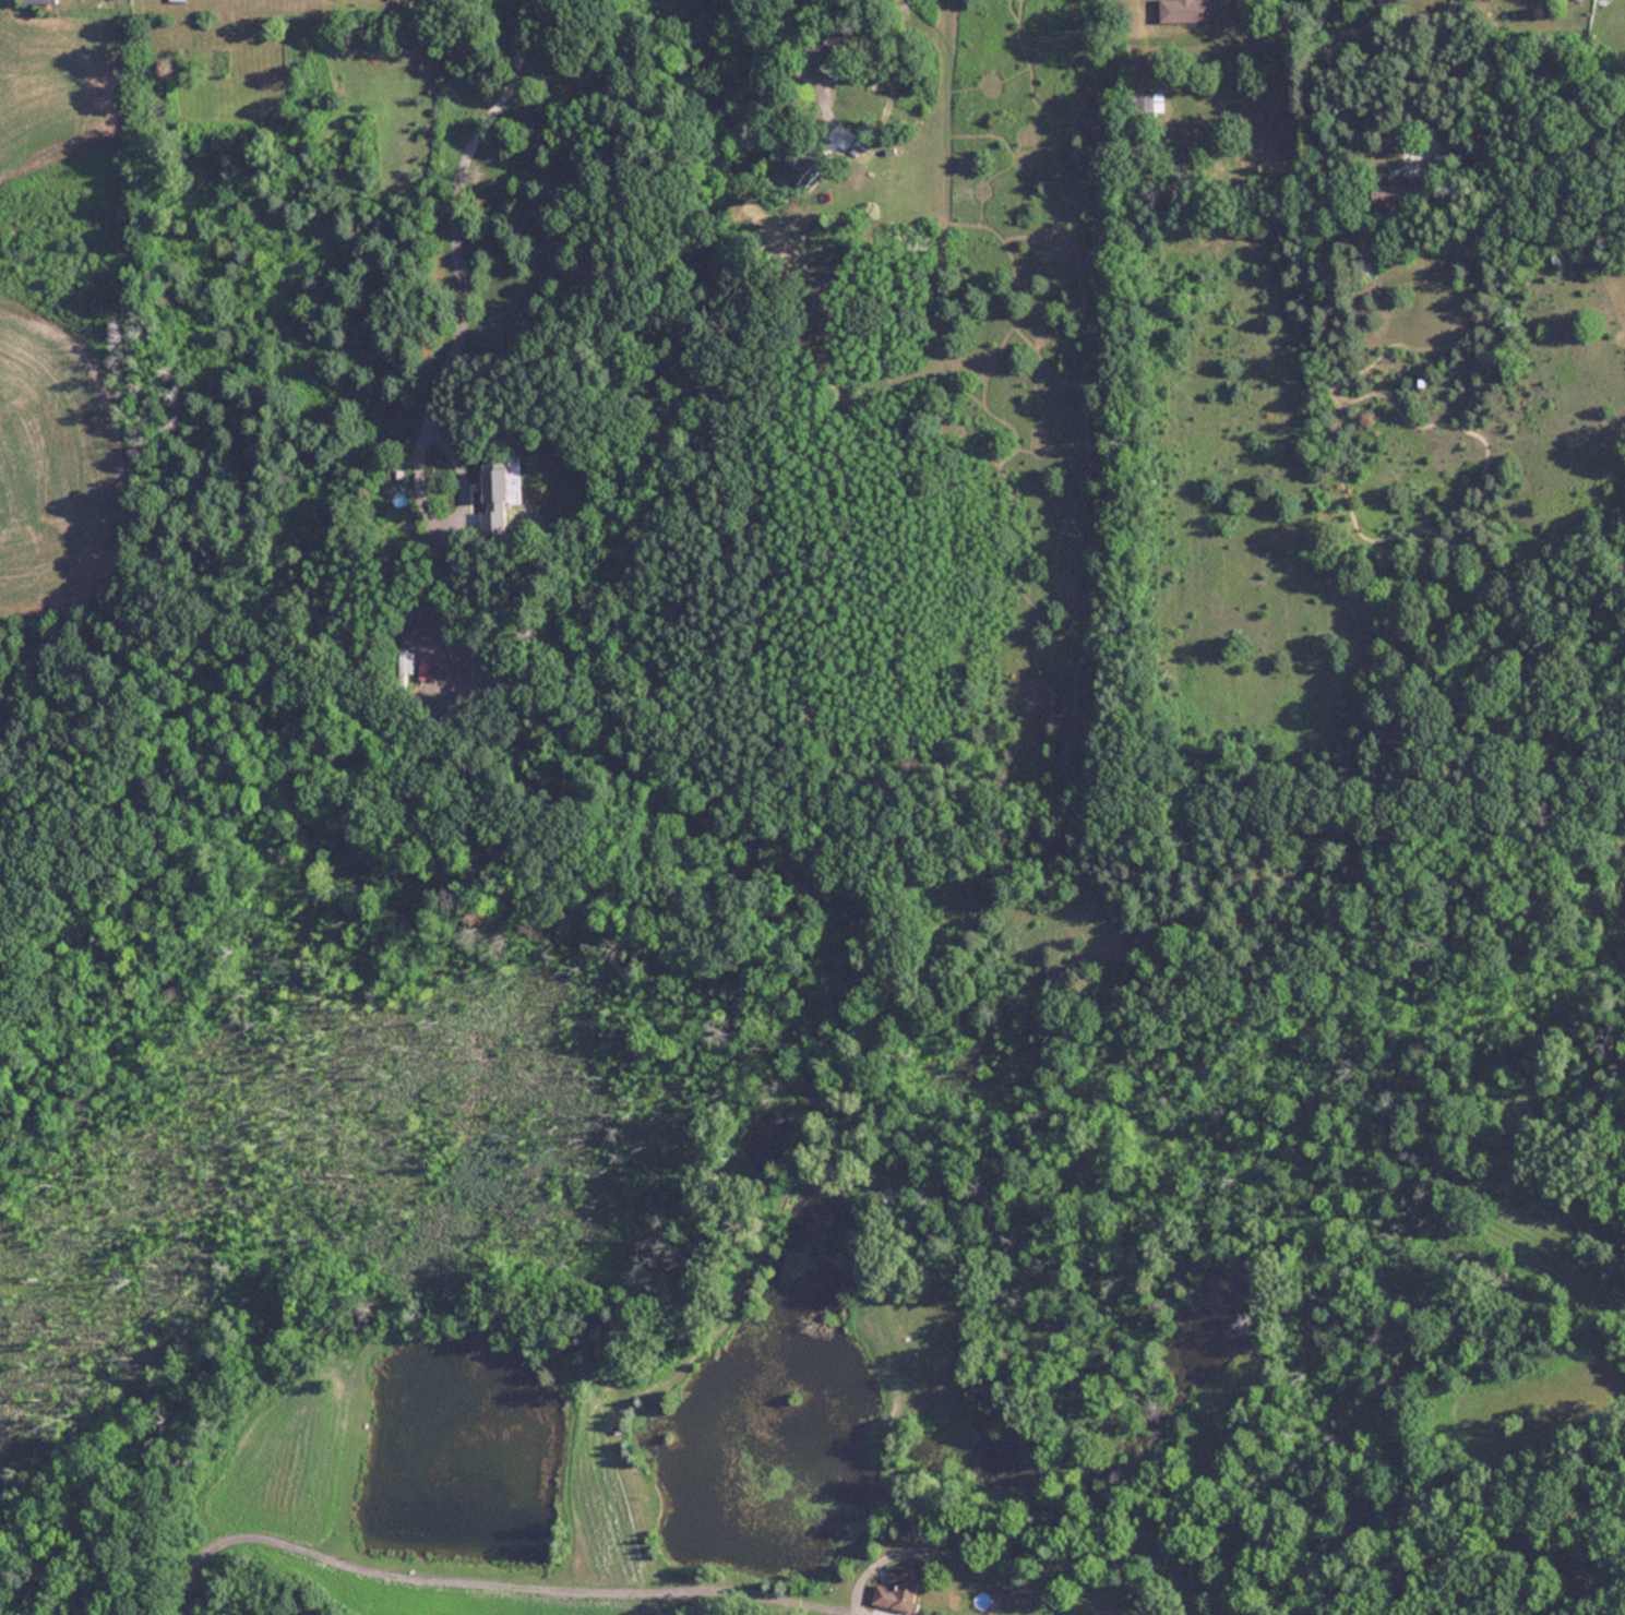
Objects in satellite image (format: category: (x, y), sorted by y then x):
building: (180, 0)
building: (45, 1)
building: (1191, 12)
road: (1427, 63)
road: (813, 70)
building: (1148, 105)
building: (808, 167)
building: (1409, 199)
road: (450, 216)
building: (502, 482)
building: (404, 670)
building: (507, 705)
road: (1418, 1494)
road: (512, 1576)
building: (904, 1592)
road: (1075, 1606)

